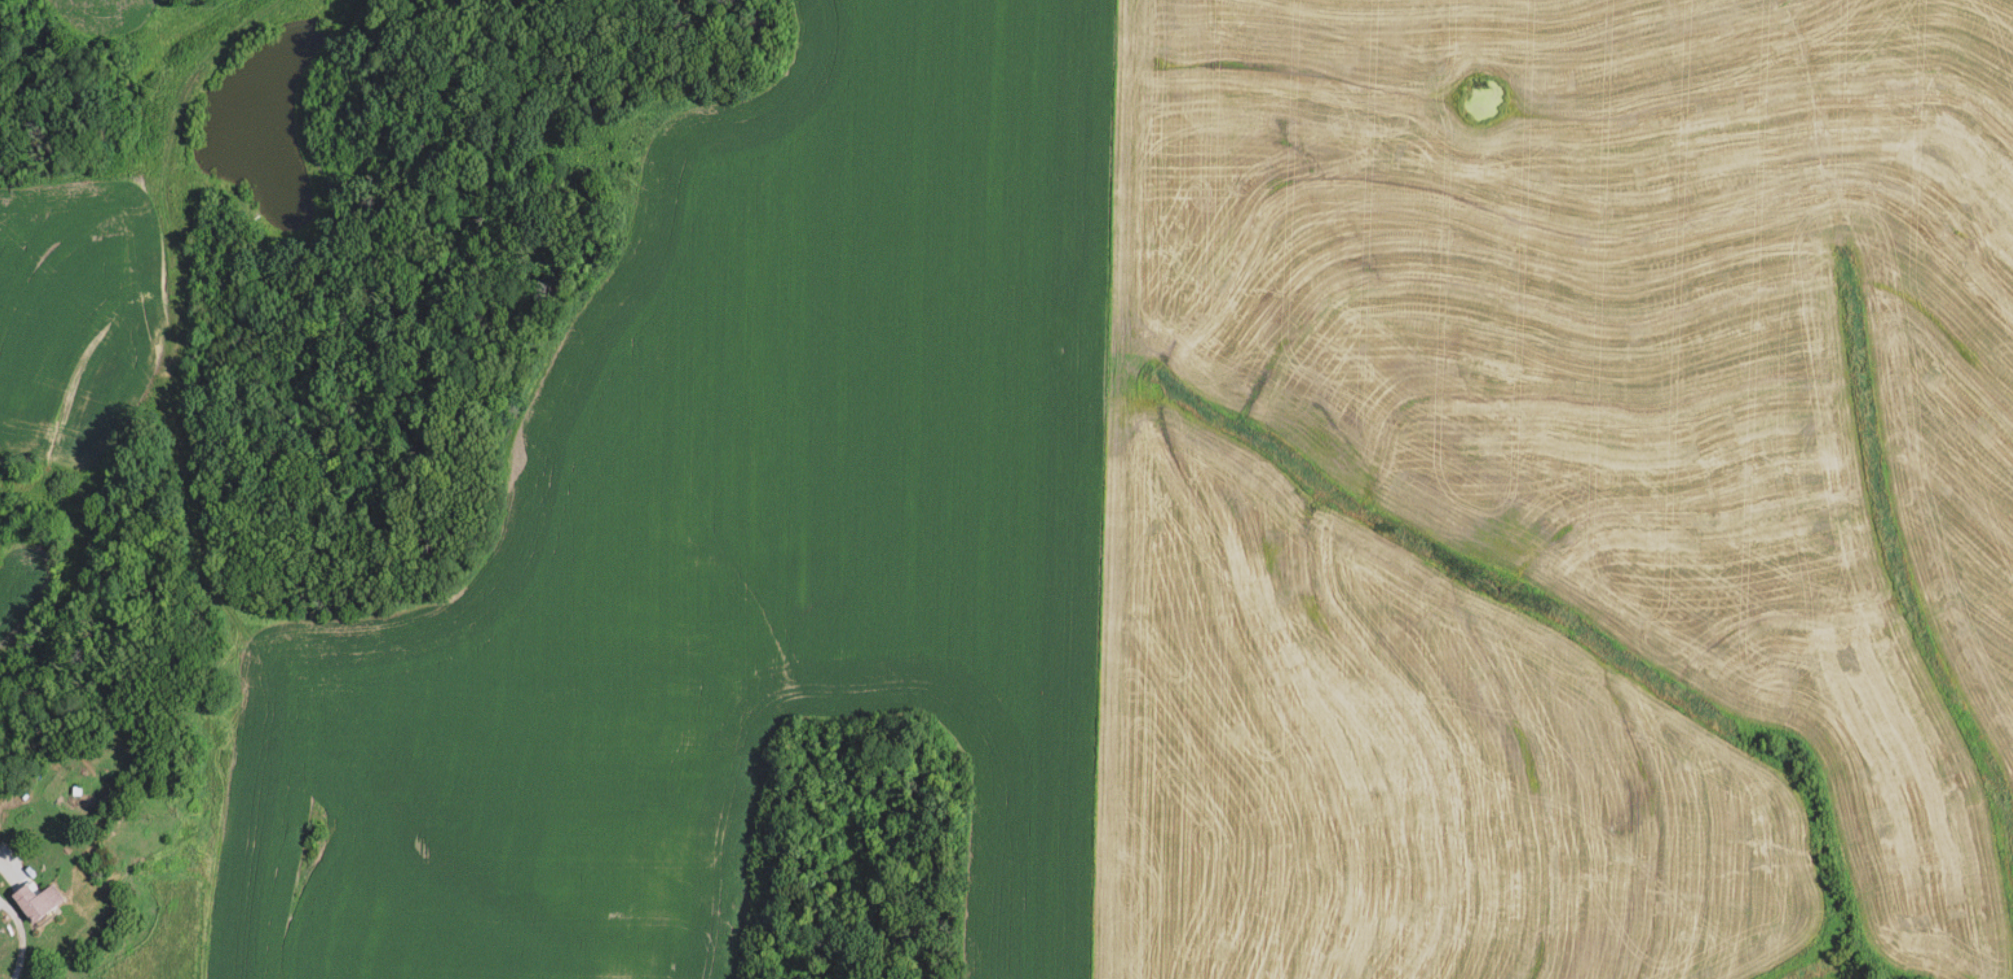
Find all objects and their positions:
building: (46, 902)
road: (13, 951)

